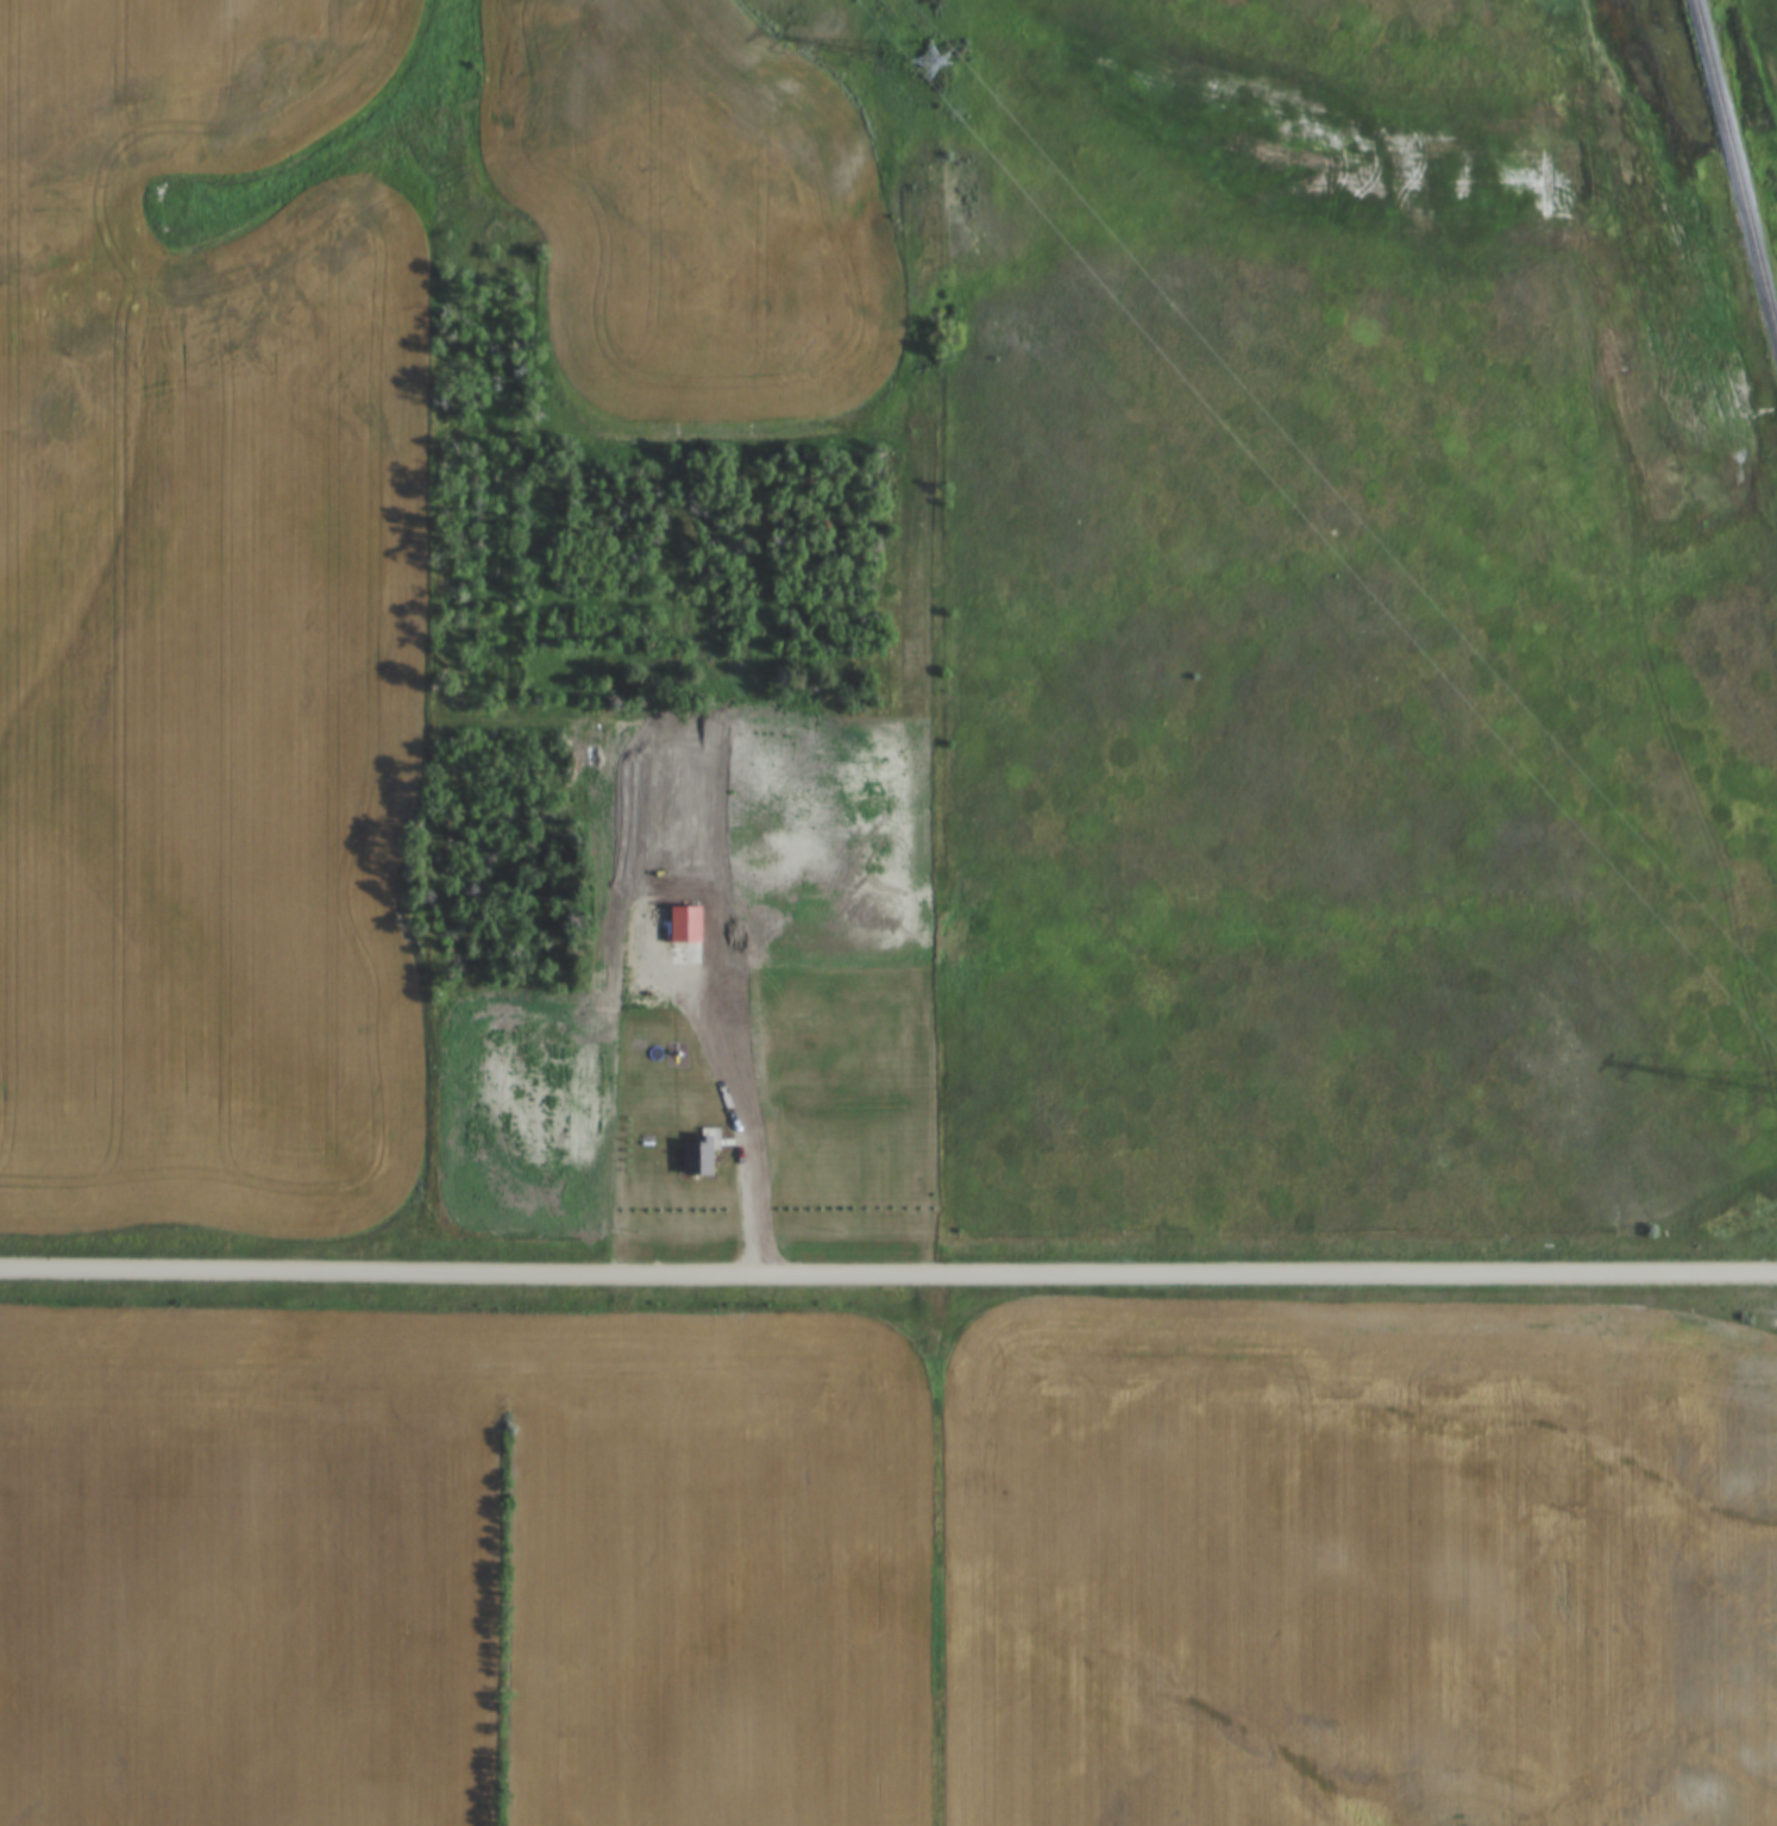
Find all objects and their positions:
power tower: (937, 59)
railway: (1732, 177)
building: (664, 766)
building: (759, 767)
building: (686, 925)
building: (638, 1061)
building: (746, 1080)
road: (729, 1093)
building: (701, 1155)
road: (887, 1273)

